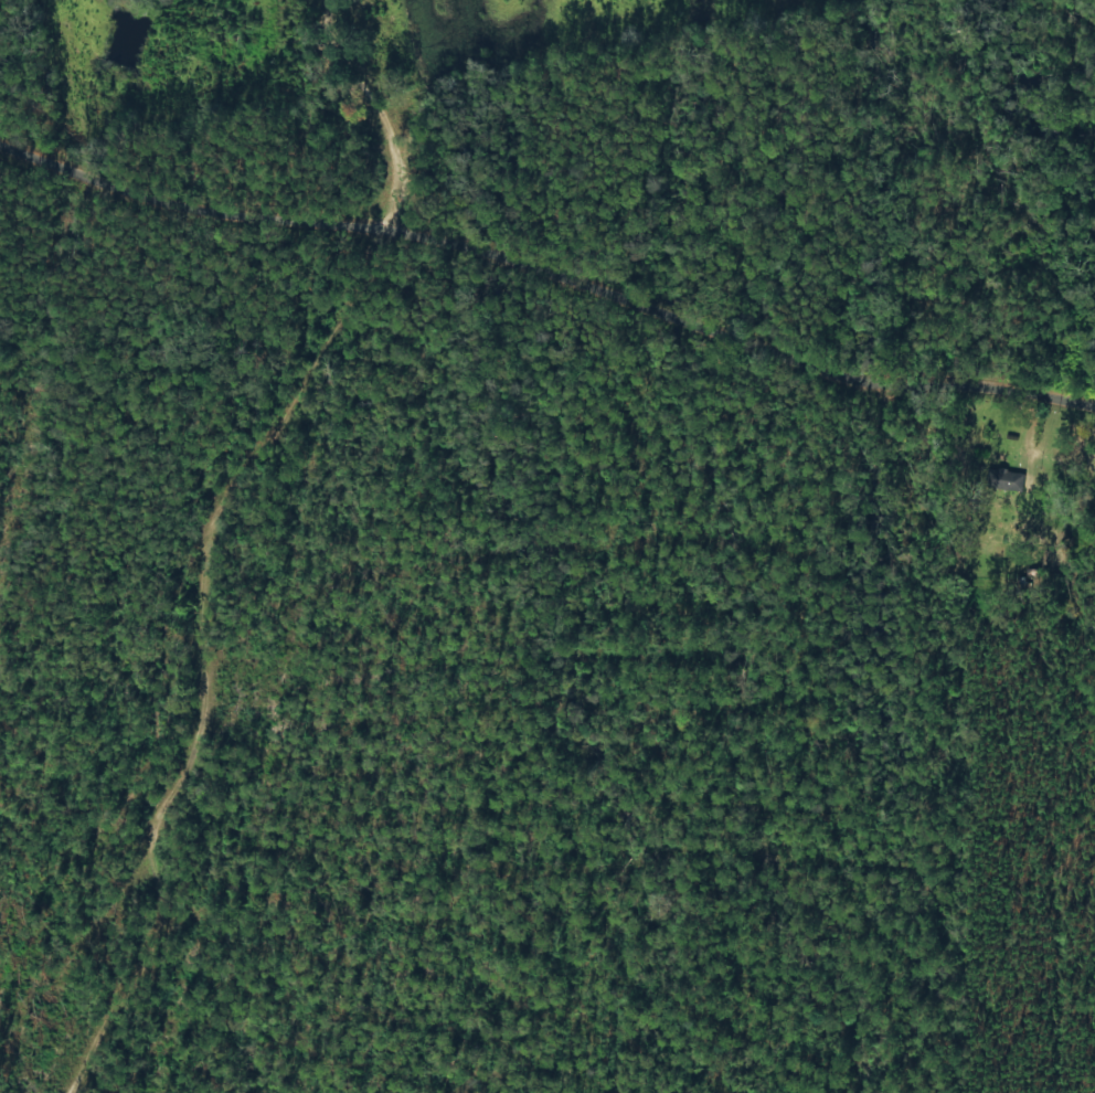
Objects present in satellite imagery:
road: (549, 289)
building: (1002, 478)

